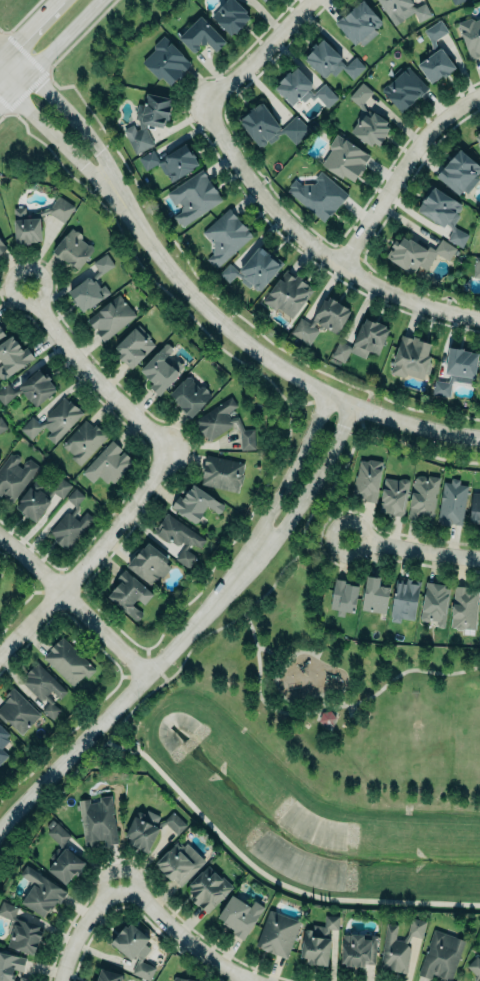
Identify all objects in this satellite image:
building: (264, 0)
building: (456, 1)
building: (422, 14)
building: (230, 15)
building: (358, 23)
road: (28, 28)
road: (62, 35)
building: (201, 35)
building: (470, 36)
road: (3, 48)
road: (261, 53)
building: (435, 55)
building: (329, 60)
building: (166, 62)
road: (13, 85)
building: (403, 87)
building: (302, 88)
building: (366, 117)
road: (73, 118)
building: (148, 119)
building: (270, 125)
building: (478, 138)
road: (61, 141)
building: (345, 158)
building: (171, 161)
road: (399, 170)
building: (459, 172)
building: (318, 195)
building: (194, 200)
building: (442, 212)
building: (37, 220)
building: (225, 238)
building: (2, 246)
road: (313, 247)
building: (72, 249)
building: (417, 253)
building: (476, 267)
building: (254, 269)
building: (91, 285)
building: (287, 295)
building: (110, 317)
building: (322, 320)
building: (1, 329)
building: (360, 343)
building: (133, 347)
building: (12, 356)
building: (412, 357)
road: (273, 359)
building: (160, 369)
building: (457, 369)
road: (89, 371)
building: (30, 389)
building: (189, 395)
building: (52, 421)
building: (223, 423)
building: (2, 426)
building: (83, 441)
building: (0, 458)
building: (108, 464)
building: (221, 472)
building: (14, 476)
building: (367, 479)
road: (282, 488)
building: (392, 496)
building: (423, 496)
building: (39, 497)
road: (300, 499)
building: (196, 503)
building: (450, 503)
building: (474, 508)
building: (70, 522)
road: (373, 525)
building: (179, 538)
road: (466, 543)
road: (414, 550)
road: (92, 551)
road: (393, 560)
building: (149, 561)
road: (228, 586)
building: (129, 594)
building: (375, 595)
building: (343, 596)
building: (404, 599)
road: (74, 601)
building: (434, 603)
building: (463, 607)
road: (243, 613)
road: (272, 654)
building: (67, 662)
road: (154, 665)
road: (164, 676)
building: (43, 687)
park: (348, 705)
road: (111, 707)
road: (328, 708)
building: (17, 711)
building: (323, 718)
building: (3, 743)
road: (117, 751)
road: (79, 766)
building: (97, 821)
building: (150, 828)
building: (62, 855)
building: (179, 862)
road: (284, 880)
building: (208, 889)
building: (41, 893)
building: (239, 916)
road: (81, 925)
building: (20, 930)
road: (183, 934)
building: (277, 934)
building: (318, 942)
building: (397, 947)
building: (133, 949)
building: (358, 950)
building: (441, 955)
building: (11, 967)
building: (474, 967)
building: (108, 975)
building: (181, 979)
road: (251, 980)

